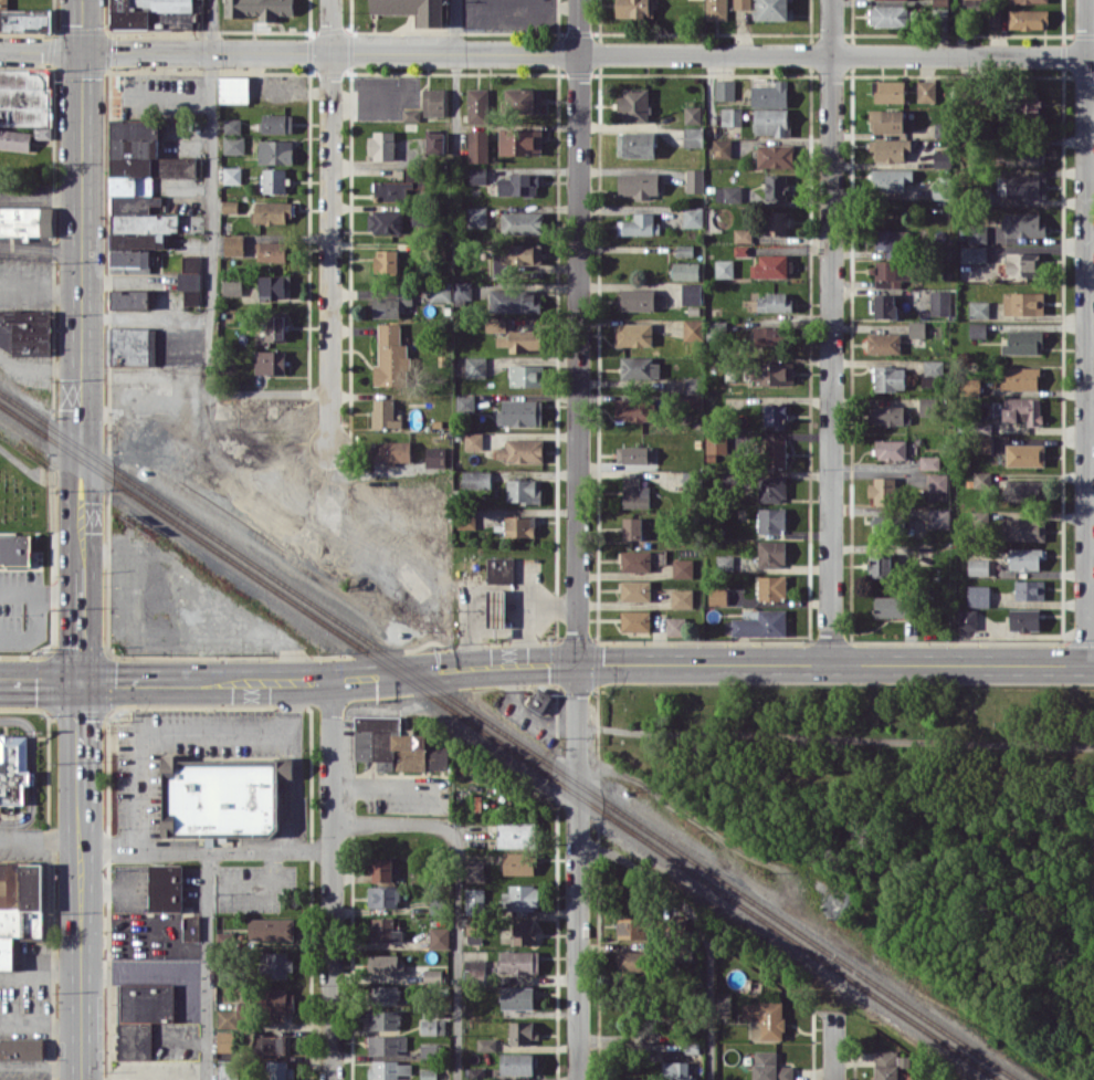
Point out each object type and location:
building: (1029, 1)
building: (3, 2)
building: (940, 2)
building: (259, 8)
building: (634, 8)
building: (716, 9)
building: (412, 10)
building: (774, 10)
building: (152, 13)
building: (888, 15)
building: (993, 15)
building: (1028, 19)
building: (25, 20)
traffic signals: (83, 52)
road: (547, 53)
road: (456, 76)
building: (233, 88)
building: (724, 88)
building: (888, 91)
building: (926, 91)
building: (770, 94)
building: (23, 97)
building: (523, 99)
building: (433, 102)
building: (477, 105)
building: (633, 105)
building: (1028, 106)
building: (411, 114)
building: (692, 114)
building: (730, 116)
building: (886, 119)
building: (770, 120)
building: (277, 123)
building: (232, 125)
building: (693, 136)
building: (14, 139)
building: (434, 141)
building: (519, 141)
building: (234, 144)
building: (635, 144)
building: (380, 145)
building: (477, 146)
building: (722, 147)
building: (890, 149)
building: (275, 151)
building: (775, 155)
building: (1024, 157)
building: (409, 174)
building: (232, 175)
building: (477, 175)
building: (891, 179)
building: (274, 180)
building: (695, 180)
building: (638, 184)
building: (517, 185)
building: (1025, 185)
building: (776, 186)
building: (942, 188)
building: (139, 190)
building: (392, 190)
building: (728, 193)
road: (41, 195)
building: (230, 206)
building: (271, 212)
building: (475, 216)
building: (692, 216)
building: (27, 221)
building: (385, 221)
building: (522, 222)
building: (776, 222)
road: (330, 223)
building: (639, 224)
building: (1023, 224)
building: (743, 234)
building: (888, 240)
road: (41, 242)
building: (234, 244)
building: (272, 250)
building: (684, 250)
road: (213, 252)
building: (972, 253)
building: (386, 261)
building: (191, 262)
building: (1022, 263)
building: (770, 265)
building: (724, 268)
building: (685, 270)
building: (891, 272)
road: (82, 282)
road: (41, 285)
building: (272, 285)
building: (189, 286)
building: (232, 286)
building: (440, 291)
building: (464, 292)
building: (691, 293)
building: (129, 298)
building: (638, 298)
building: (514, 301)
building: (774, 302)
building: (939, 302)
building: (1023, 303)
building: (885, 305)
building: (386, 307)
building: (978, 308)
building: (496, 325)
building: (274, 327)
building: (916, 328)
building: (693, 329)
building: (977, 329)
road: (577, 331)
road: (831, 331)
building: (25, 332)
road: (1086, 332)
building: (633, 334)
building: (770, 335)
building: (525, 339)
building: (883, 342)
building: (1023, 342)
building: (132, 345)
building: (390, 356)
building: (270, 361)
building: (475, 366)
building: (640, 367)
building: (932, 370)
building: (774, 373)
building: (526, 375)
building: (888, 378)
building: (1021, 378)
building: (693, 385)
building: (972, 385)
building: (465, 402)
building: (927, 406)
building: (634, 409)
building: (1022, 409)
building: (520, 412)
building: (385, 413)
building: (888, 415)
building: (775, 416)
building: (473, 440)
building: (715, 444)
building: (891, 449)
building: (522, 450)
building: (393, 452)
building: (775, 452)
building: (634, 453)
building: (1024, 454)
building: (435, 457)
building: (929, 462)
building: (476, 479)
building: (981, 479)
building: (937, 486)
building: (771, 487)
park: (22, 490)
building: (883, 490)
building: (1024, 490)
building: (523, 491)
building: (634, 492)
building: (938, 517)
building: (771, 520)
building: (881, 523)
building: (519, 525)
building: (632, 527)
building: (1024, 528)
building: (15, 548)
building: (771, 553)
building: (1024, 558)
building: (635, 560)
building: (724, 562)
building: (879, 564)
building: (978, 566)
building: (682, 567)
building: (501, 569)
building: (771, 587)
building: (1029, 589)
road: (19, 590)
road: (59, 590)
building: (635, 590)
building: (978, 595)
building: (717, 596)
building: (682, 598)
road: (537, 606)
building: (891, 606)
building: (496, 608)
building: (967, 618)
building: (1024, 619)
building: (635, 620)
road: (81, 623)
building: (761, 623)
building: (675, 625)
road: (35, 627)
road: (494, 635)
traffic signals: (577, 662)
road: (546, 663)
traffic signals: (81, 682)
building: (540, 700)
road: (175, 726)
road: (81, 727)
railway: (507, 735)
railway: (497, 742)
building: (396, 745)
building: (13, 768)
building: (222, 796)
park: (890, 820)
building: (515, 833)
road: (40, 836)
road: (206, 852)
building: (518, 862)
building: (381, 869)
building: (473, 870)
road: (577, 871)
road: (332, 880)
building: (166, 888)
road: (455, 892)
building: (383, 895)
building: (520, 898)
building: (474, 901)
building: (19, 906)
road: (80, 926)
building: (631, 926)
building: (191, 927)
building: (271, 927)
road: (699, 927)
building: (383, 930)
building: (474, 931)
building: (523, 932)
building: (439, 936)
building: (630, 961)
building: (519, 962)
building: (385, 963)
building: (276, 965)
road: (207, 966)
building: (474, 967)
road: (40, 974)
road: (371, 975)
building: (432, 975)
building: (385, 994)
building: (516, 997)
building: (277, 1003)
building: (749, 1009)
building: (141, 1016)
building: (228, 1018)
building: (383, 1019)
building: (768, 1021)
building: (432, 1026)
road: (40, 1028)
building: (522, 1031)
building: (225, 1040)
building: (272, 1044)
building: (386, 1044)
building: (486, 1044)
road: (832, 1046)
building: (21, 1048)
building: (428, 1051)
building: (518, 1063)
road: (40, 1065)
building: (885, 1065)
building: (769, 1067)
building: (227, 1069)
building: (389, 1069)
road: (158, 1070)
building: (281, 1070)
building: (676, 1070)

